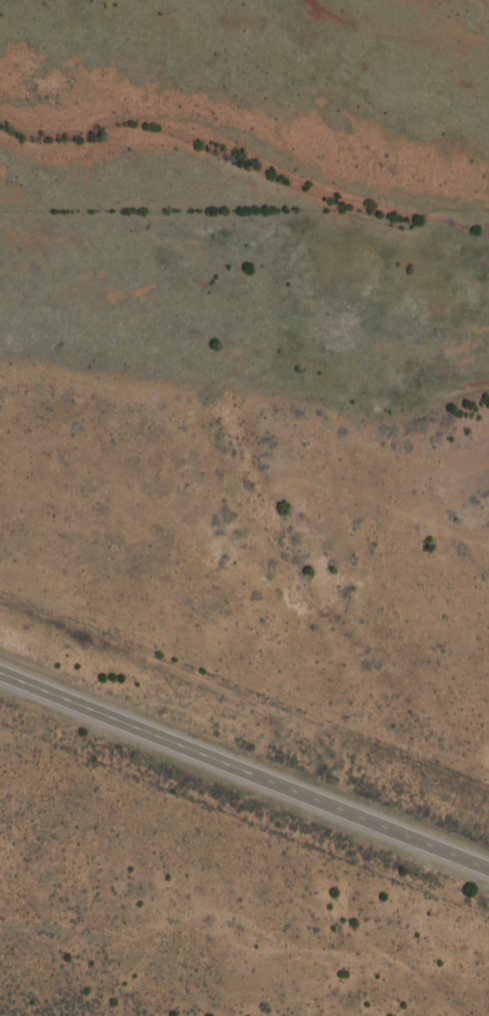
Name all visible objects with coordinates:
road: (244, 775)

